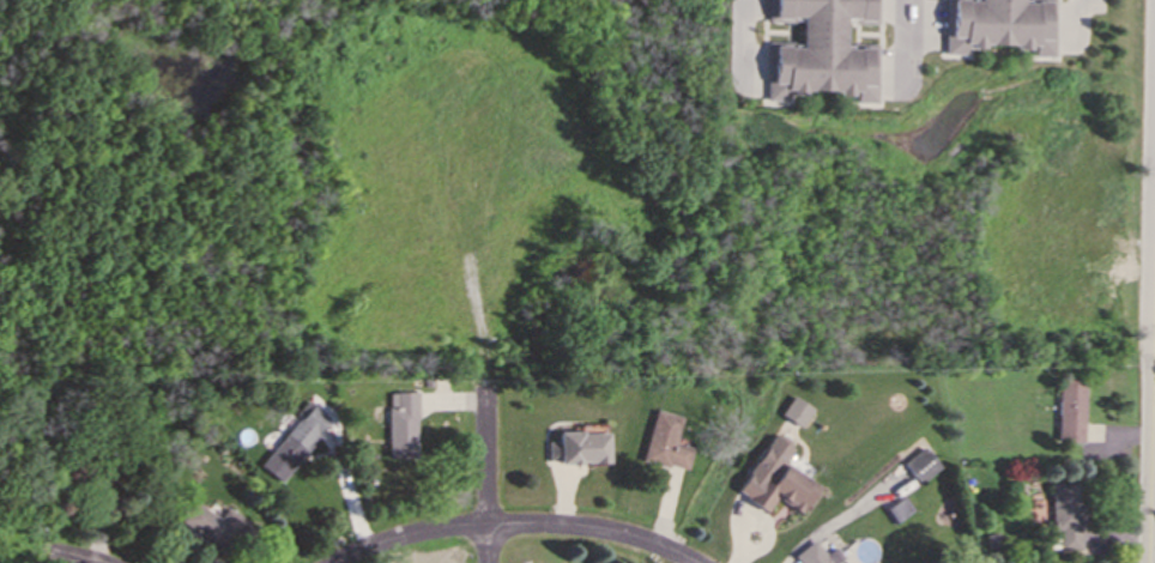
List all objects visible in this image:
road: (1075, 8)
building: (997, 24)
road: (738, 41)
road: (902, 41)
building: (820, 49)
road: (1151, 406)
building: (1069, 410)
building: (794, 411)
building: (400, 424)
building: (664, 441)
building: (292, 442)
building: (576, 447)
building: (919, 464)
road: (484, 476)
building: (774, 478)
building: (1065, 514)
building: (213, 526)
road: (514, 526)
building: (815, 553)
road: (74, 558)

